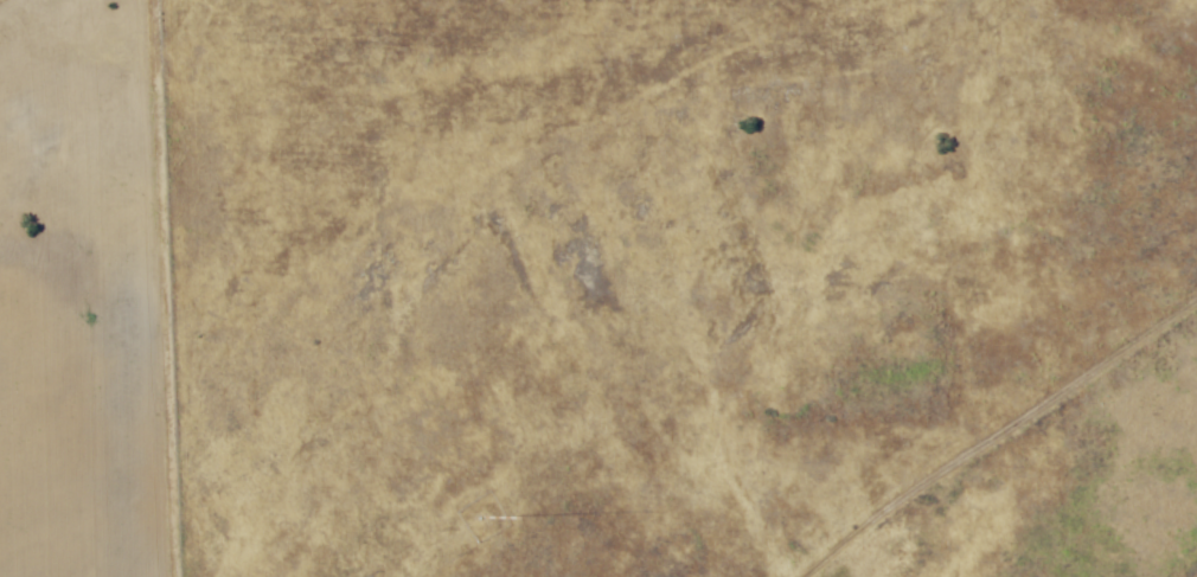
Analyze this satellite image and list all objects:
road: (91, 262)

